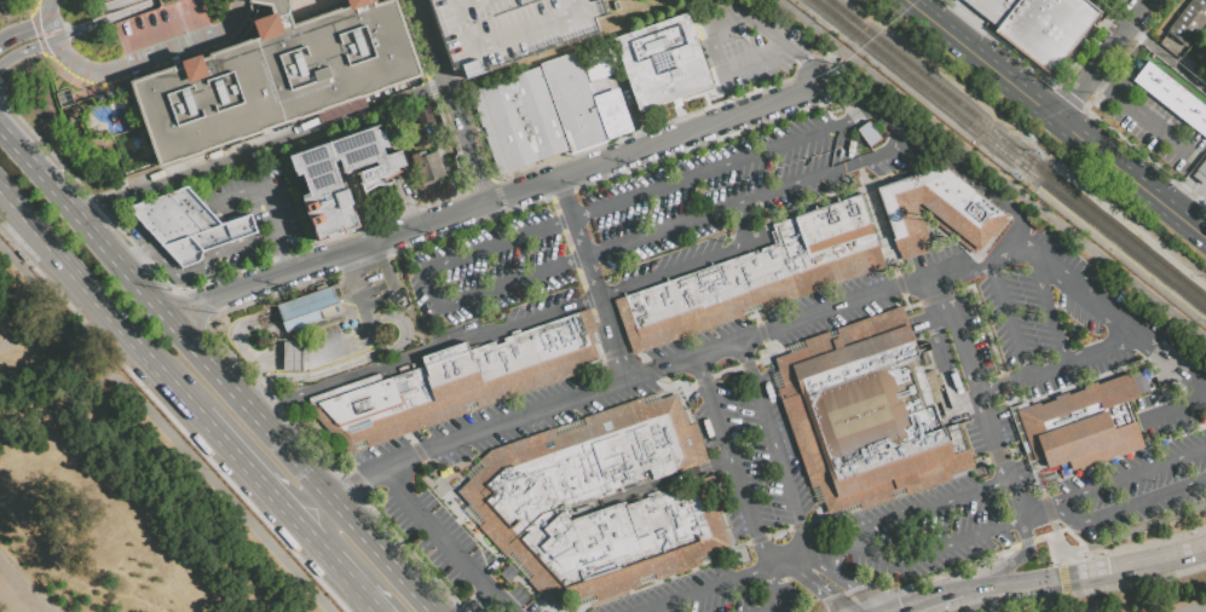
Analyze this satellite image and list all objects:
building: (346, 0)
building: (956, 1)
building: (977, 4)
road: (119, 5)
building: (276, 5)
building: (997, 10)
road: (34, 12)
road: (1109, 15)
road: (50, 18)
road: (108, 19)
road: (754, 19)
building: (1188, 22)
building: (506, 28)
parking lot: (506, 28)
road: (24, 29)
road: (171, 29)
building: (1046, 29)
road: (192, 45)
road: (27, 48)
road: (751, 58)
road: (986, 58)
road: (1107, 58)
road: (1167, 59)
road: (131, 62)
building: (662, 62)
road: (829, 65)
road: (81, 68)
road: (809, 68)
building: (602, 69)
building: (273, 76)
road: (1102, 82)
road: (849, 86)
building: (1172, 97)
road: (449, 102)
building: (572, 103)
road: (382, 104)
road: (1079, 105)
building: (613, 114)
building: (539, 115)
road: (732, 115)
building: (427, 117)
road: (1153, 122)
parking lot: (1153, 125)
building: (504, 127)
building: (869, 134)
railway: (1017, 149)
railway: (1008, 155)
road: (1146, 157)
road: (226, 158)
road: (954, 164)
building: (429, 167)
building: (273, 169)
road: (991, 171)
road: (1133, 173)
building: (1201, 173)
building: (323, 181)
parking lot: (1195, 186)
road: (261, 190)
road: (102, 202)
road: (406, 202)
building: (937, 210)
building: (174, 215)
parking lot: (657, 216)
road: (878, 223)
railway: (1130, 229)
road: (405, 232)
road: (45, 238)
building: (208, 241)
road: (283, 254)
railway: (1121, 255)
road: (194, 273)
building: (755, 275)
road: (594, 277)
road: (352, 281)
road: (928, 281)
road: (390, 284)
road: (345, 289)
road: (608, 294)
road: (942, 300)
road: (434, 301)
road: (306, 302)
building: (307, 307)
road: (1048, 311)
road: (1008, 318)
road: (235, 339)
road: (341, 343)
road: (1101, 350)
road: (148, 352)
building: (290, 356)
road: (367, 356)
road: (290, 357)
road: (947, 363)
road: (652, 370)
road: (218, 371)
road: (258, 371)
building: (1148, 374)
road: (360, 375)
building: (1138, 376)
building: (457, 381)
road: (1004, 383)
road: (247, 386)
road: (1178, 406)
road: (277, 410)
parking lot: (541, 410)
building: (866, 414)
building: (1081, 425)
road: (157, 432)
road: (774, 448)
road: (255, 472)
road: (1132, 472)
park: (110, 487)
road: (344, 491)
building: (600, 500)
road: (1133, 503)
road: (1056, 508)
road: (755, 525)
road: (1132, 527)
road: (1055, 532)
road: (1044, 538)
road: (444, 541)
road: (1025, 543)
road: (321, 544)
road: (1133, 545)
road: (862, 548)
road: (833, 549)
road: (790, 562)
road: (1006, 565)
traffic signals: (1110, 571)
road: (951, 572)
building: (508, 573)
road: (1062, 575)
road: (1085, 575)
road: (846, 581)
road: (1136, 582)
road: (357, 585)
road: (818, 587)
traffic signals: (1025, 587)
road: (17, 588)
road: (774, 590)
traffic signals: (829, 595)
road: (480, 601)
road: (957, 601)
road: (1045, 604)
road: (1073, 604)
road: (864, 605)
road: (937, 607)
road: (1200, 610)

